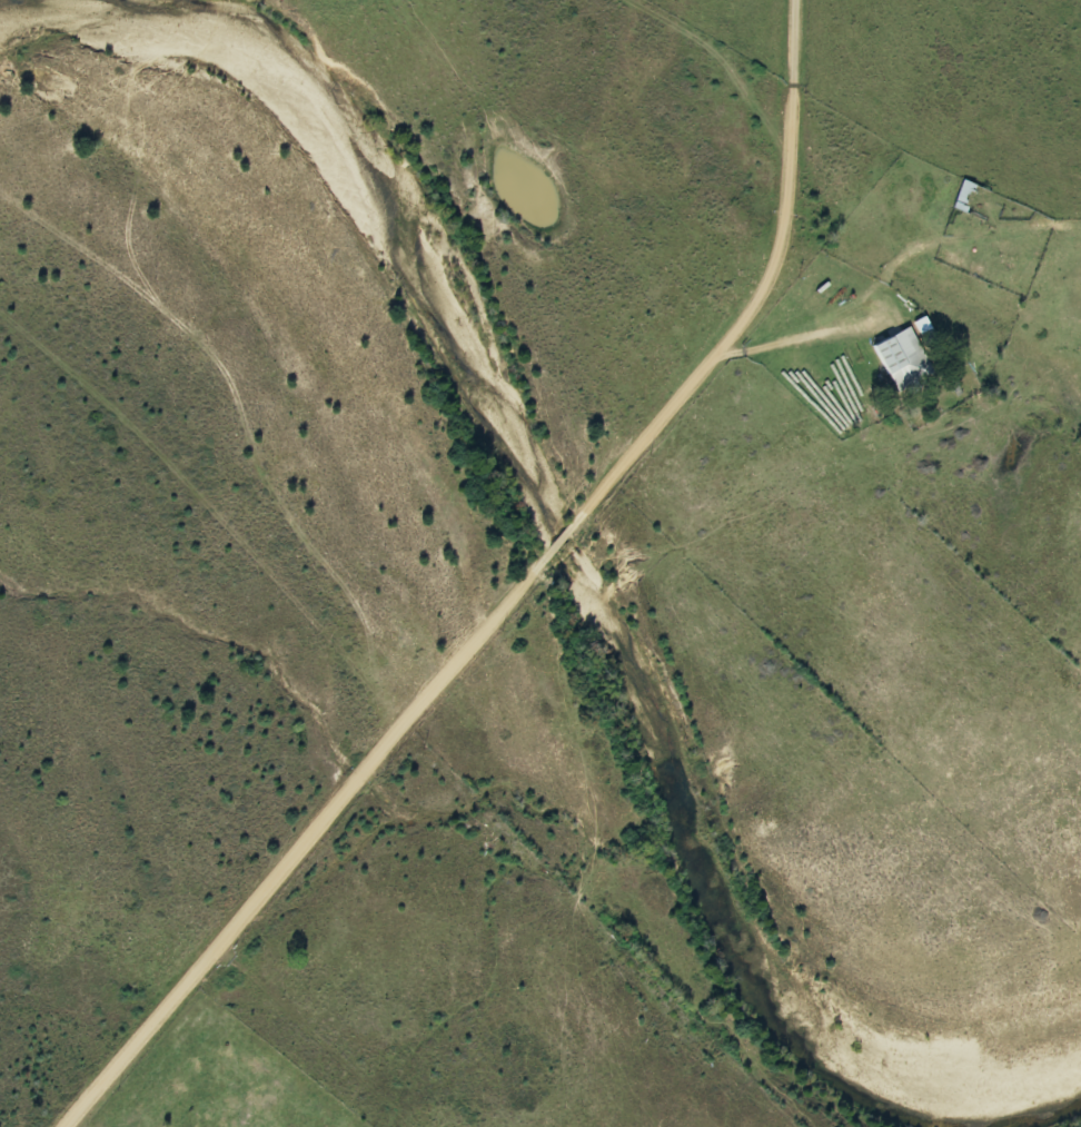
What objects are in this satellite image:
road: (764, 303)
road: (799, 338)
building: (902, 358)
road: (554, 550)
road: (301, 840)

